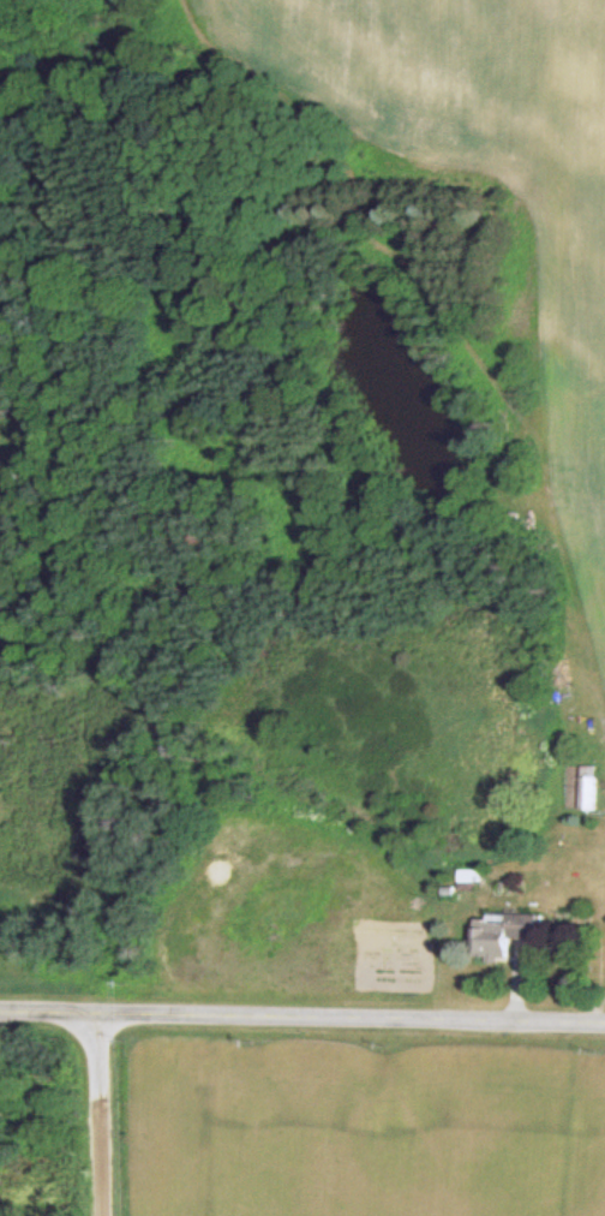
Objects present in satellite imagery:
building: (589, 786)
building: (503, 932)
road: (302, 1015)
road: (102, 1114)

